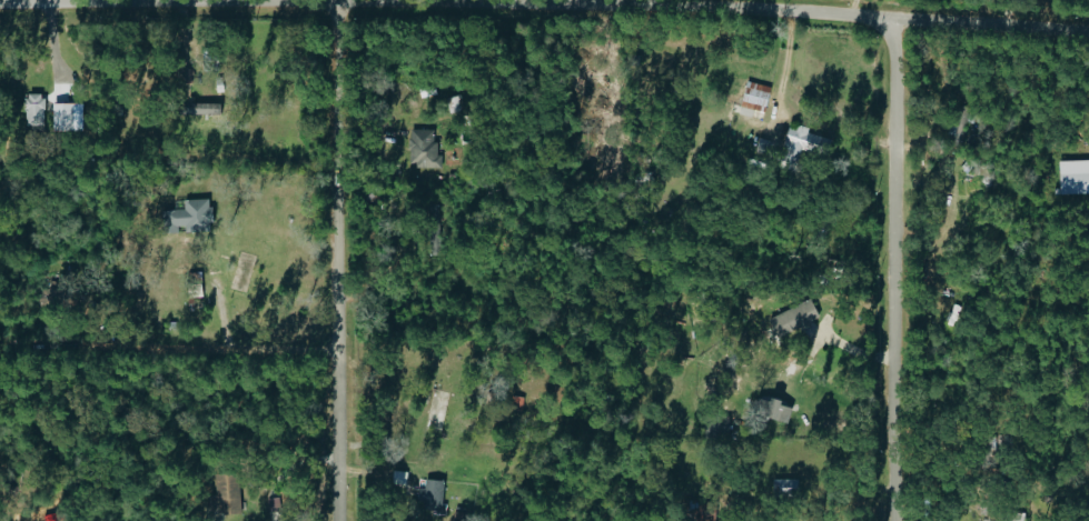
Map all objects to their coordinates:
road: (140, 1)
road: (46, 2)
road: (290, 2)
road: (544, 9)
road: (980, 12)
road: (1004, 13)
road: (52, 56)
road: (785, 67)
building: (751, 98)
building: (206, 109)
building: (38, 110)
road: (307, 114)
building: (66, 118)
building: (803, 141)
building: (425, 149)
building: (1072, 177)
building: (192, 217)
building: (435, 223)
road: (346, 261)
road: (892, 270)
building: (791, 318)
road: (845, 350)
road: (240, 352)
building: (770, 410)
building: (714, 428)
road: (289, 470)
road: (860, 490)
building: (227, 494)
building: (428, 497)
building: (1010, 517)

